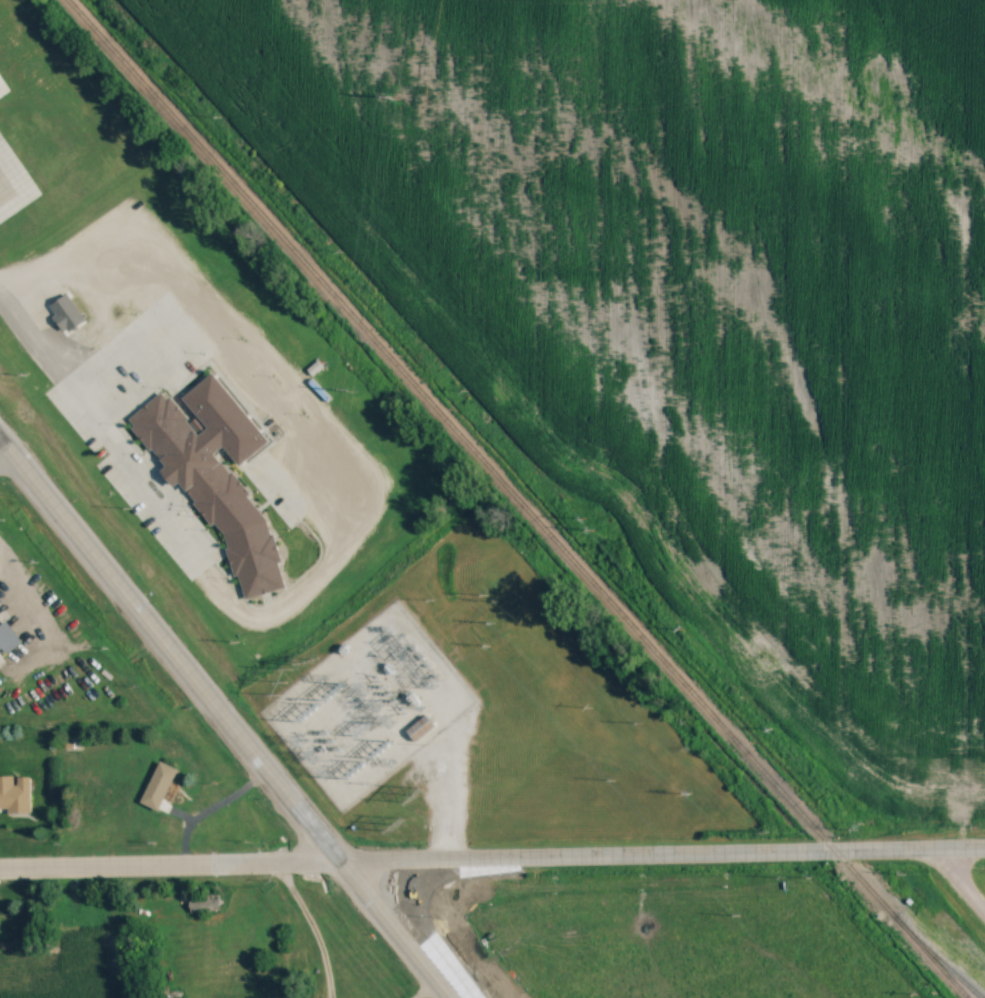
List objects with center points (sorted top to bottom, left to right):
power tower: (394, 98)
road: (98, 312)
building: (67, 314)
power tower: (351, 391)
road: (1, 444)
railway: (521, 503)
power tower: (312, 661)
power tower: (284, 686)
power substation: (369, 706)
road: (225, 720)
power tower: (311, 721)
building: (421, 727)
power tower: (364, 751)
building: (159, 785)
power tower: (415, 787)
road: (447, 791)
building: (15, 793)
road: (210, 809)
power tower: (389, 809)
road: (661, 854)
building: (787, 856)
road: (169, 865)
building: (204, 905)
road: (313, 927)
road: (425, 988)

